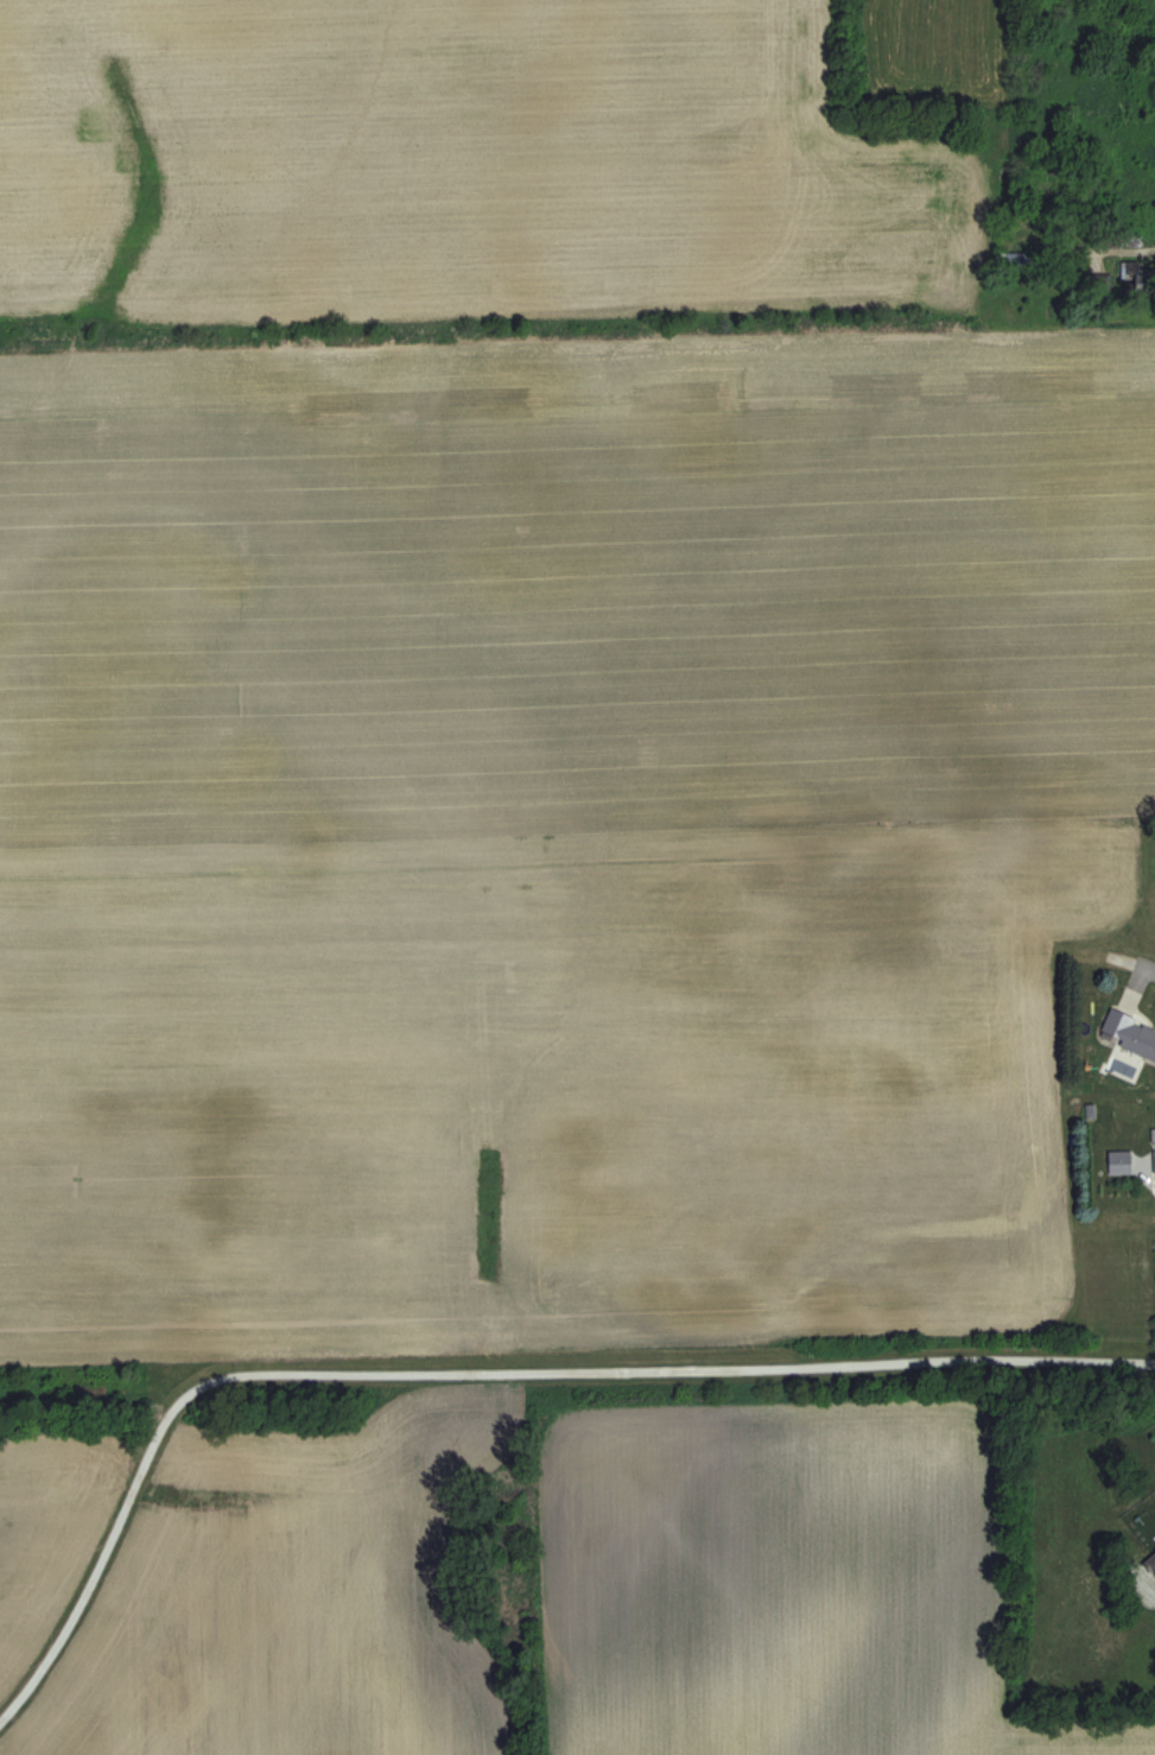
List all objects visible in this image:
road: (1124, 245)
building: (1015, 262)
building: (1140, 278)
building: (1099, 284)
road: (1117, 977)
building: (1129, 1034)
road: (481, 1376)
building: (1150, 1559)

